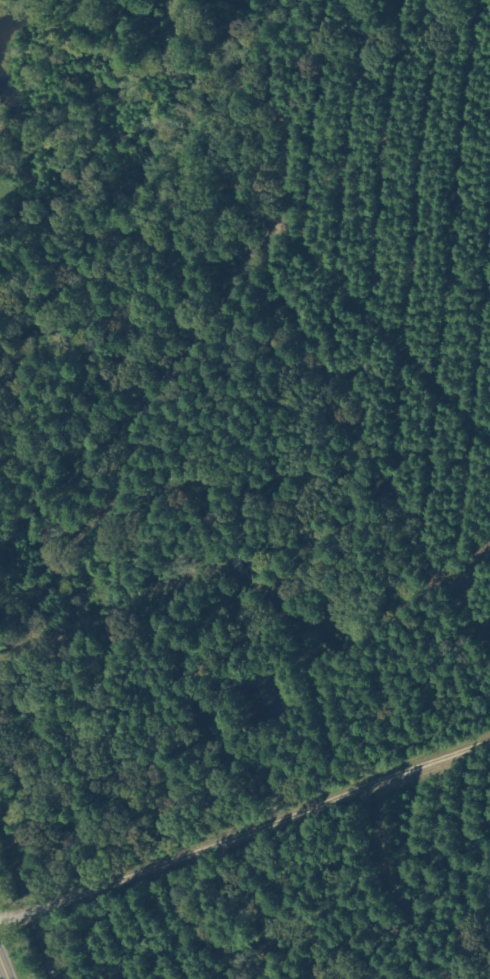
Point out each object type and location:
road: (1, 976)

